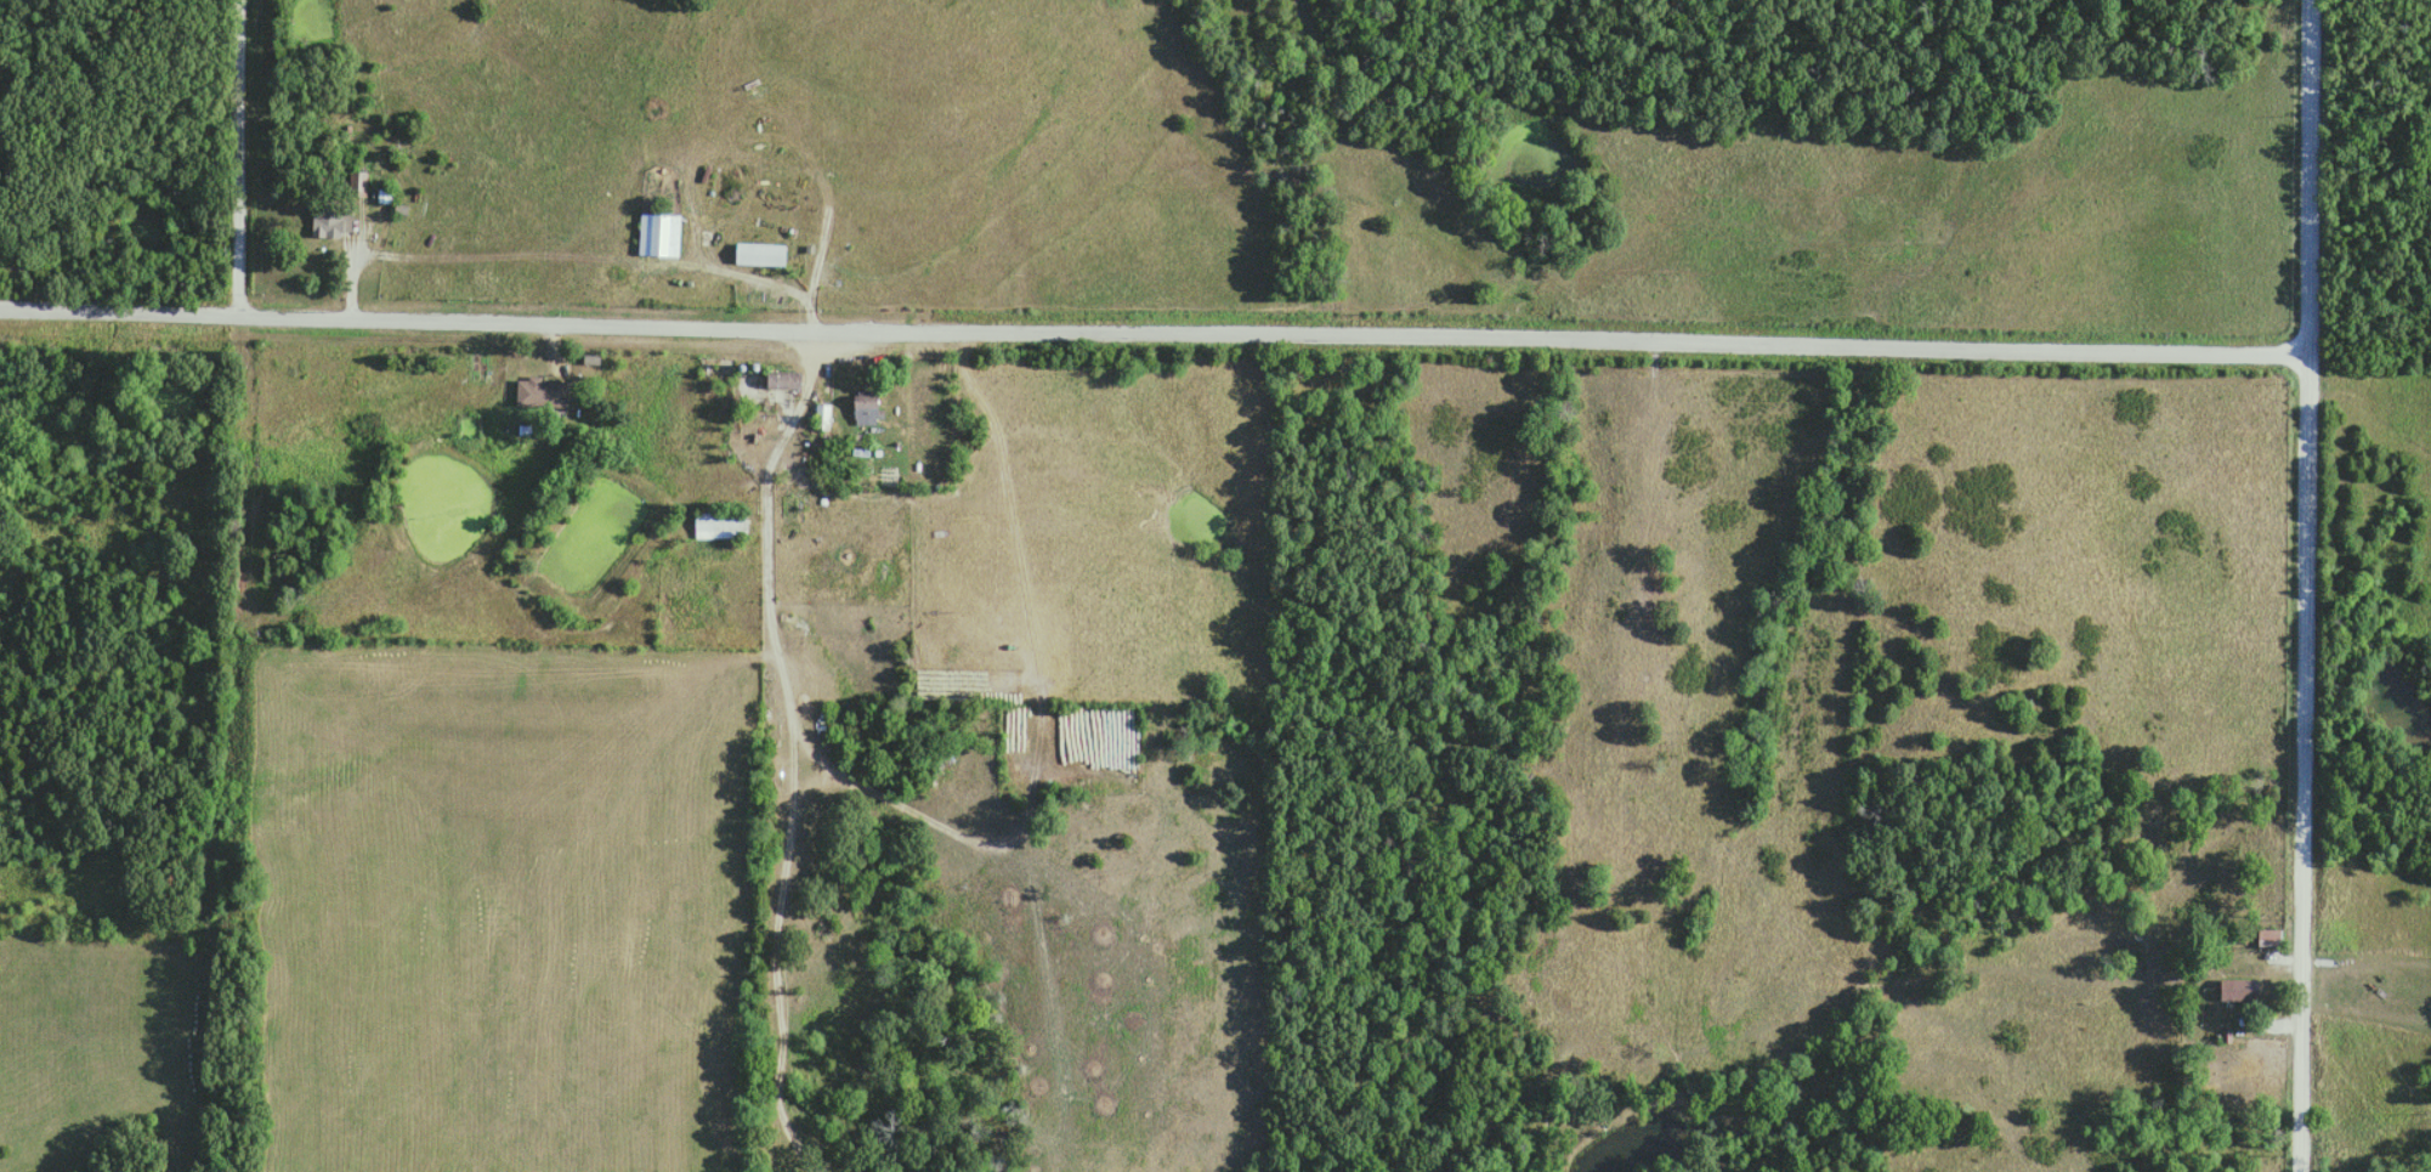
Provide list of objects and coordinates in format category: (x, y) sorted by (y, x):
road: (236, 157)
building: (386, 194)
building: (331, 219)
building: (658, 232)
building: (760, 253)
road: (1152, 330)
building: (783, 378)
building: (543, 391)
building: (866, 406)
building: (821, 415)
building: (719, 523)
road: (2303, 585)
road: (787, 666)
building: (2271, 936)
building: (2240, 989)
road: (2363, 1007)
road: (2242, 1024)
building: (2231, 1099)

